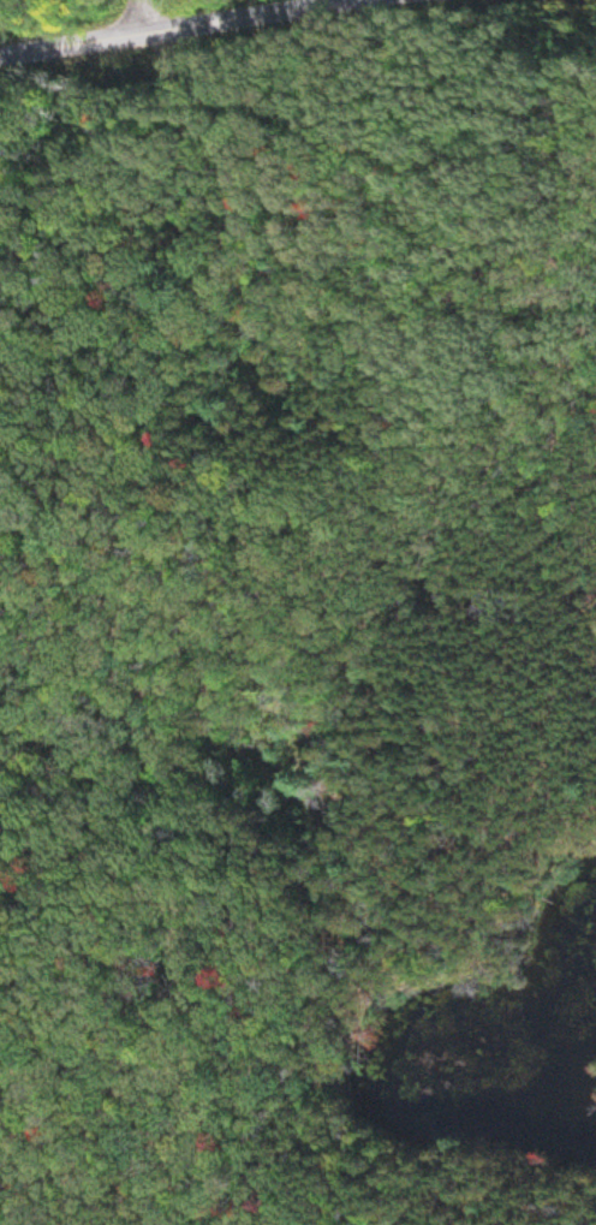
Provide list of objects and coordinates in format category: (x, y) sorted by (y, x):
road: (150, 14)
road: (198, 24)

